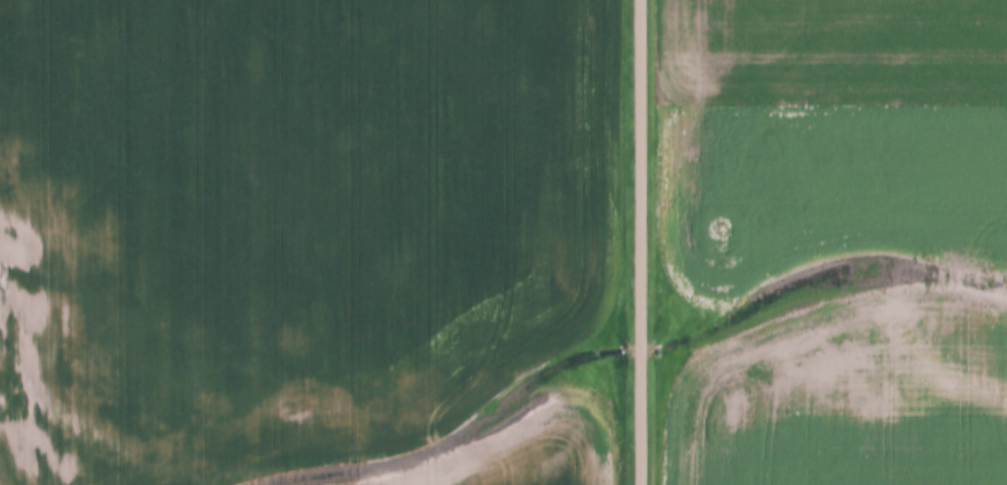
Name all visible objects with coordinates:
road: (639, 242)

